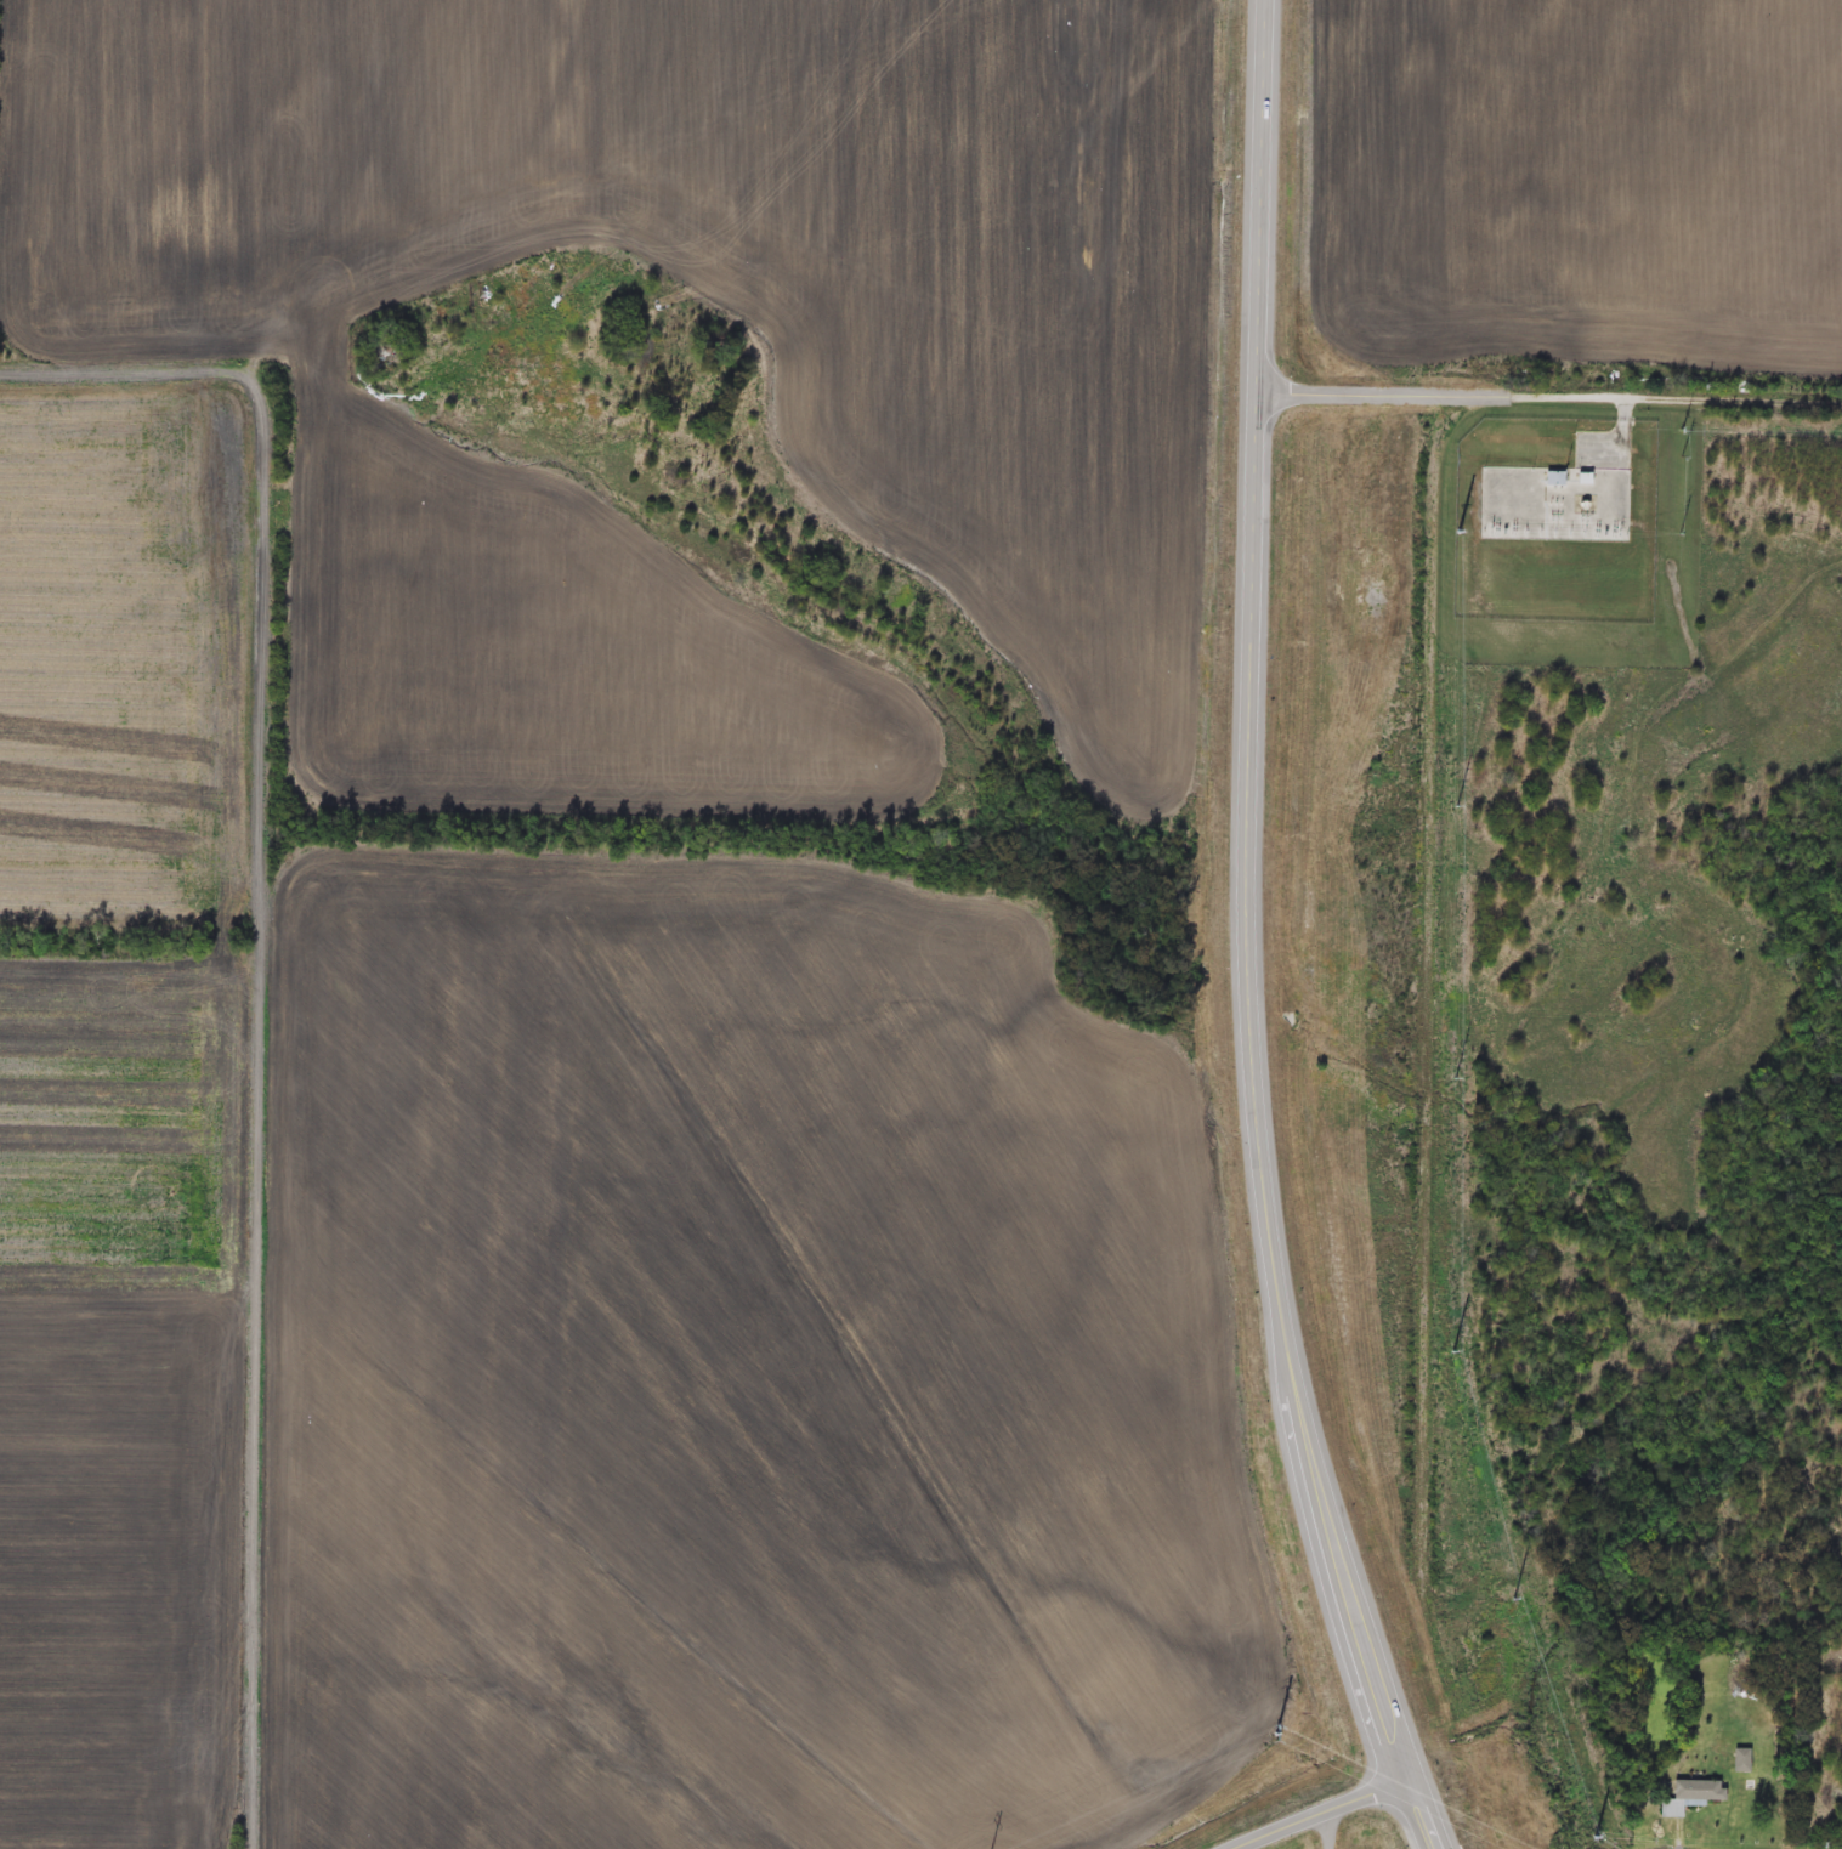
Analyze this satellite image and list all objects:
road: (1551, 399)
building: (1554, 480)
road: (1247, 938)
road: (1429, 957)
road: (272, 972)
building: (1742, 1762)
building: (1694, 1796)
road: (1342, 1822)
road: (1330, 1838)

